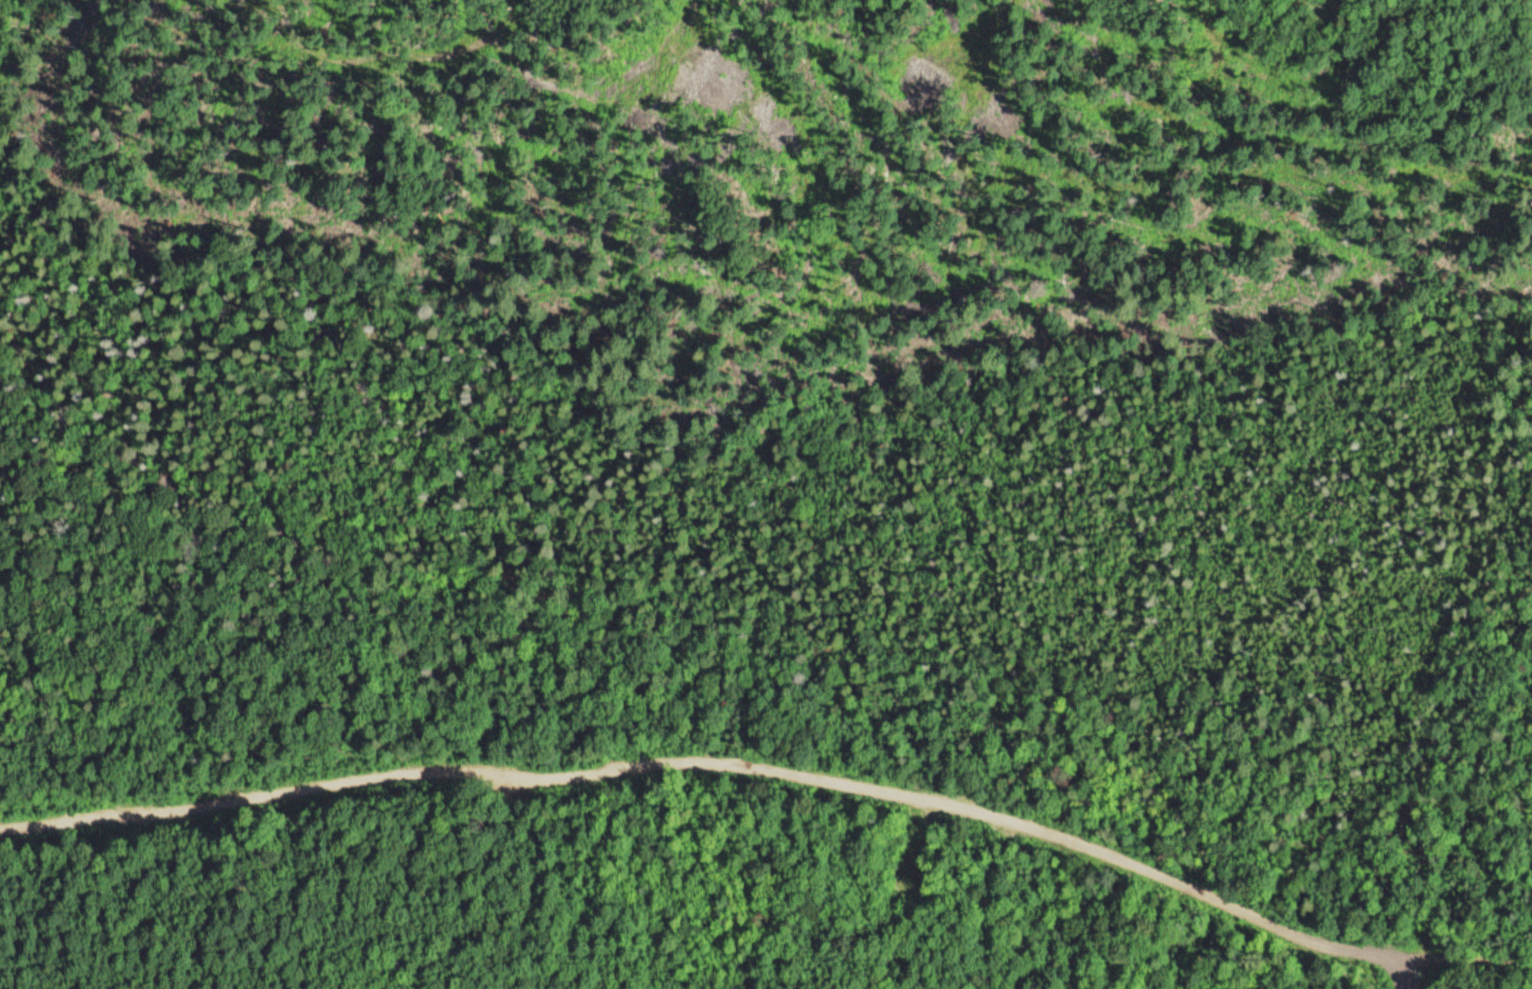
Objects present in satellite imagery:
road: (780, 776)

